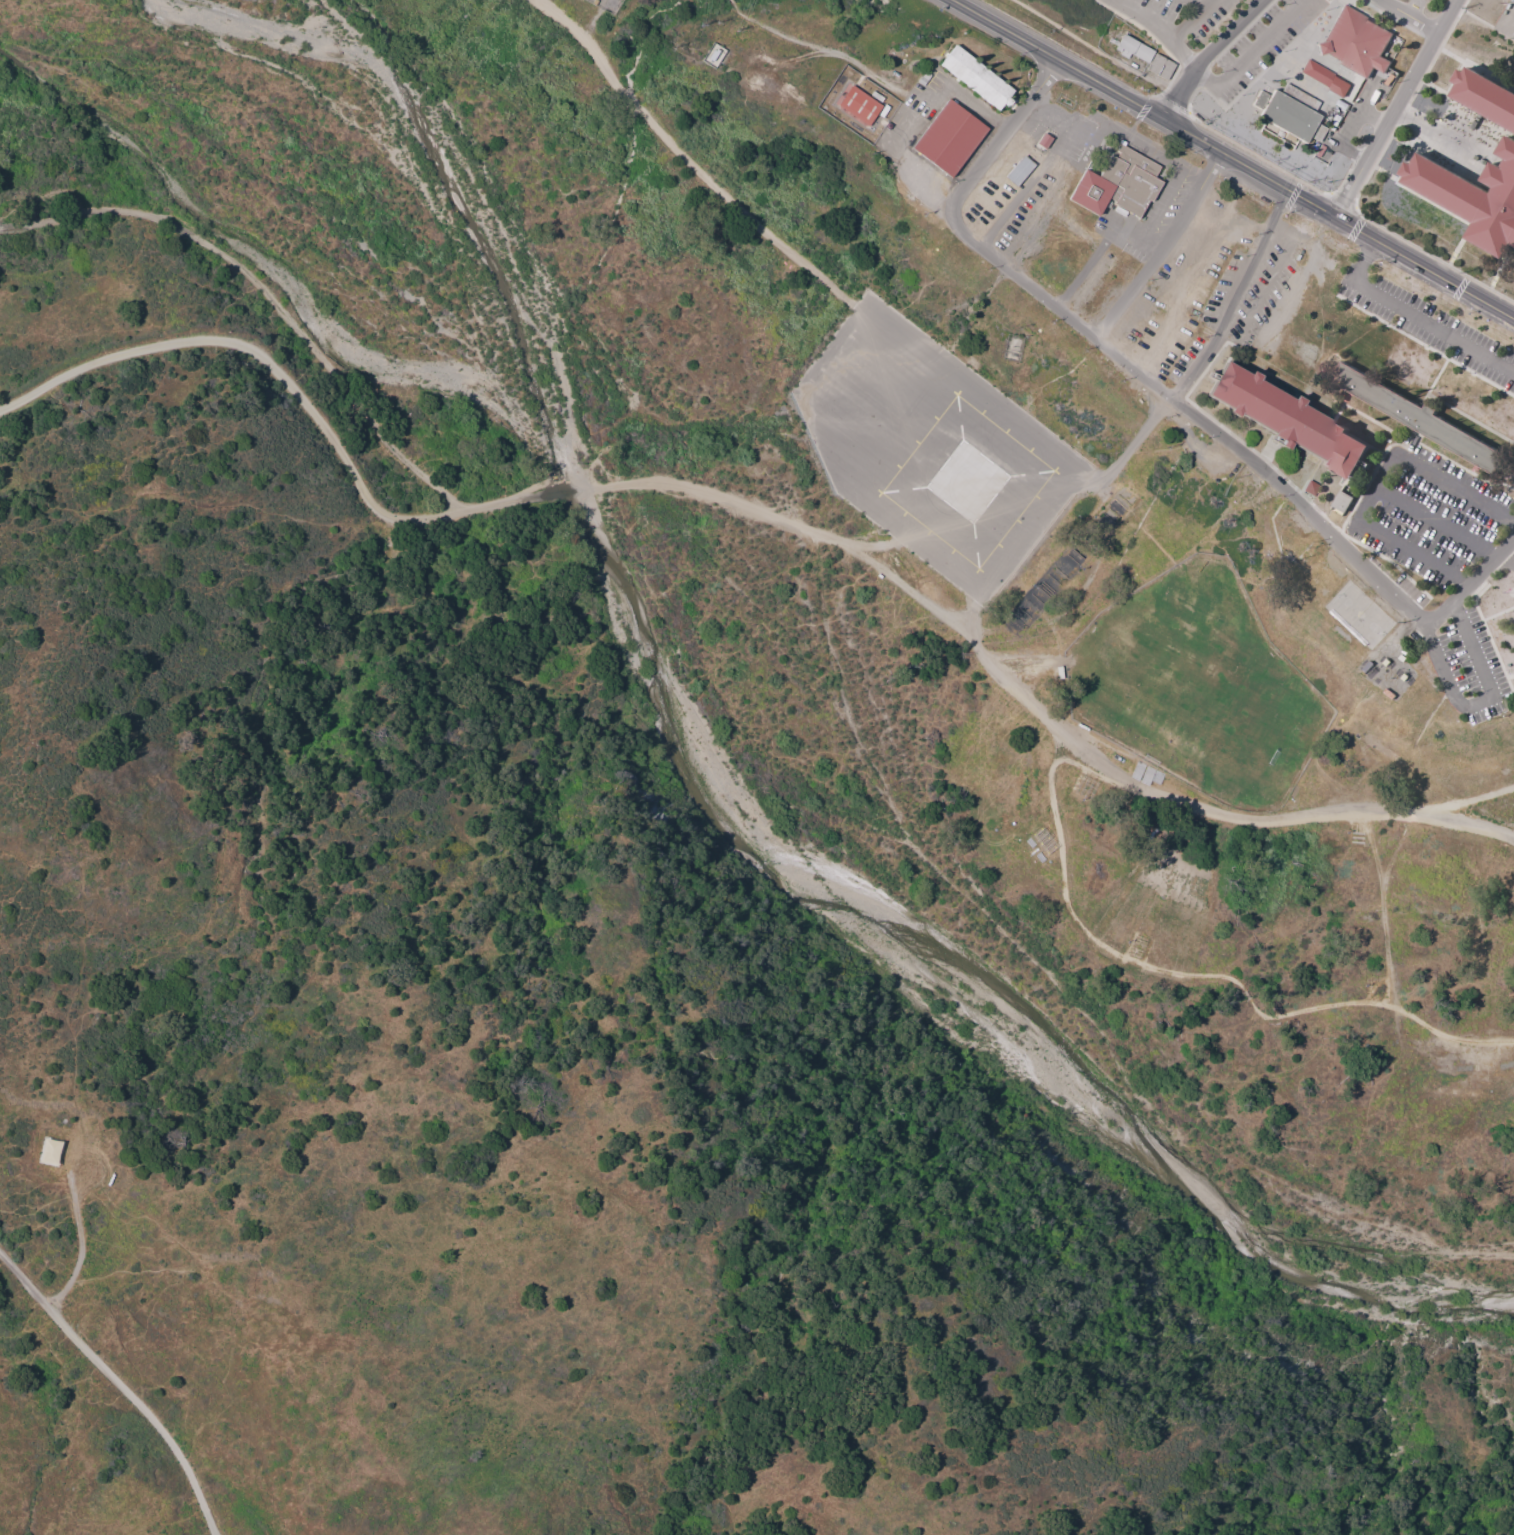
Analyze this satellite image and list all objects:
road: (1195, 4)
road: (1202, 10)
road: (981, 18)
road: (1409, 19)
road: (1153, 33)
building: (1354, 42)
road: (1180, 46)
building: (1132, 50)
road: (1253, 55)
road: (1208, 56)
road: (1087, 77)
building: (1350, 77)
building: (974, 78)
building: (1322, 79)
building: (858, 106)
road: (1399, 109)
road: (976, 110)
building: (1287, 110)
road: (1193, 137)
building: (947, 139)
building: (1508, 141)
building: (1041, 142)
building: (1116, 185)
road: (1369, 237)
road: (817, 243)
road: (1162, 247)
road: (267, 295)
road: (1120, 356)
road: (298, 400)
road: (1177, 401)
building: (1412, 415)
building: (1286, 421)
road: (1384, 490)
building: (1342, 502)
road: (1438, 526)
road: (1471, 581)
road: (1084, 599)
road: (990, 666)
road: (1486, 698)
road: (1466, 830)
road: (1391, 871)
building: (48, 1154)
road: (121, 1389)

